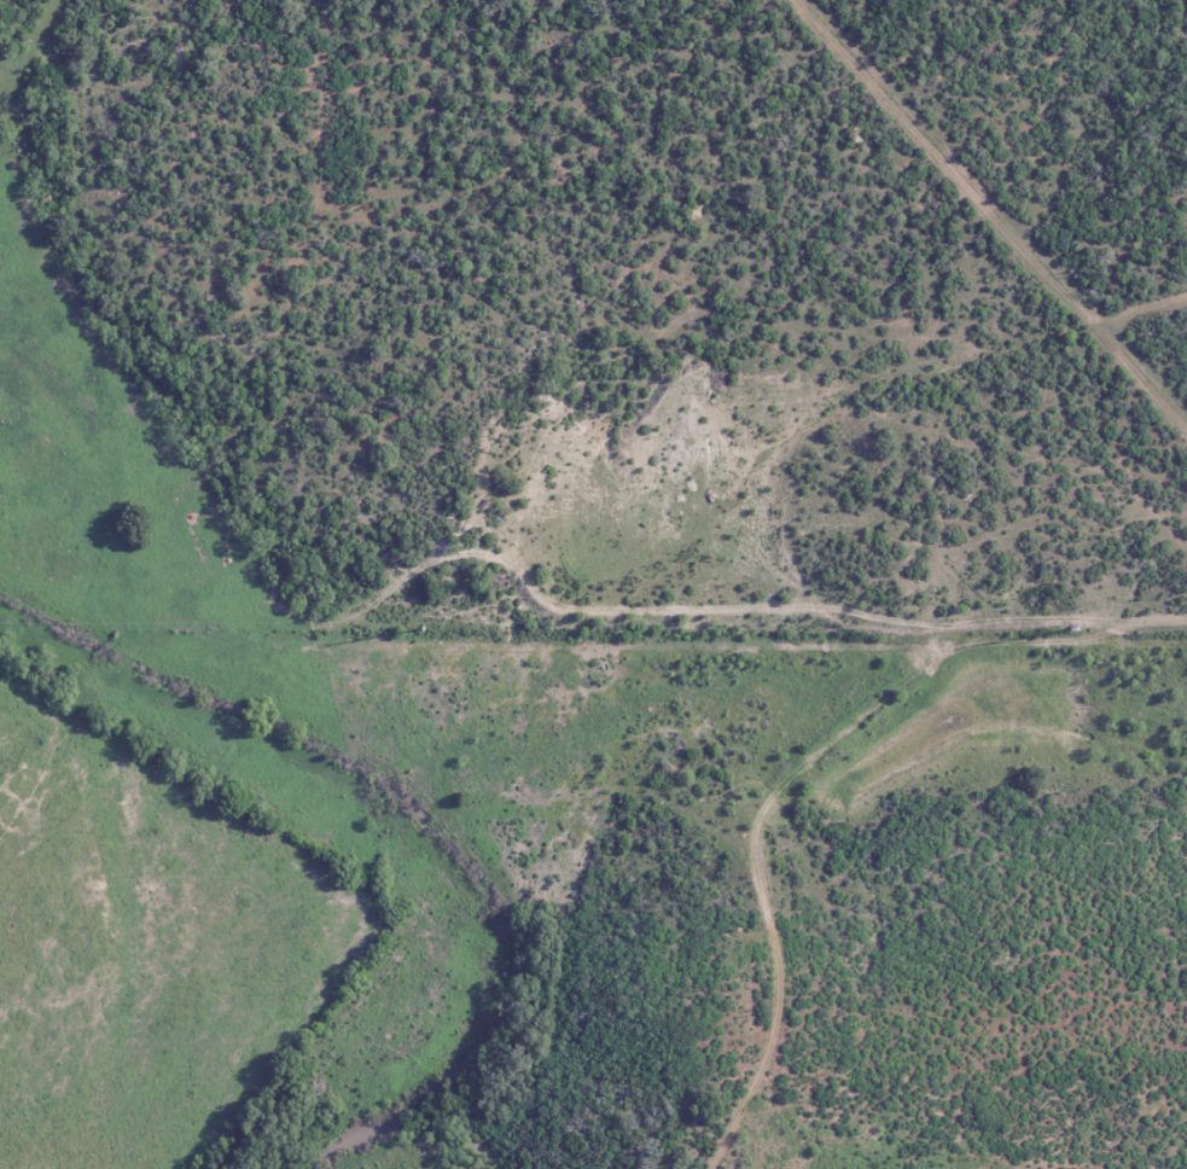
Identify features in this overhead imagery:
power tower: (420, 629)
power tower: (1071, 629)

